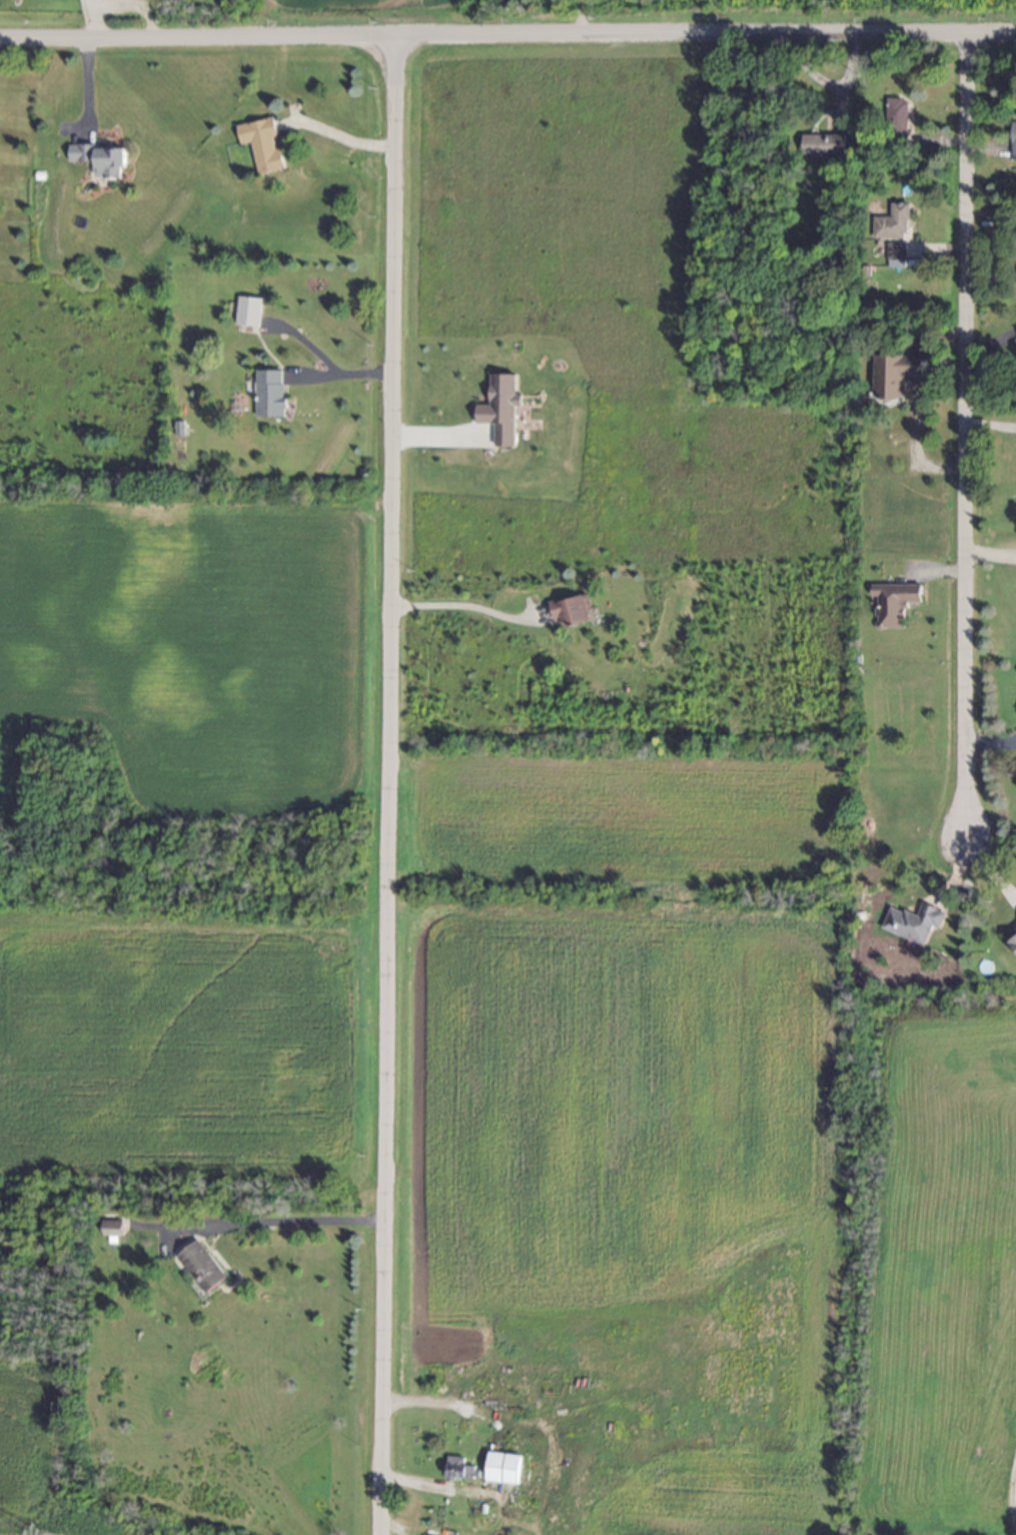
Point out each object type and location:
road: (131, 9)
road: (91, 20)
road: (507, 36)
road: (830, 81)
road: (842, 105)
building: (896, 109)
road: (967, 127)
road: (340, 138)
building: (1012, 140)
building: (262, 145)
building: (823, 145)
building: (99, 159)
building: (892, 223)
building: (896, 255)
building: (248, 312)
building: (893, 374)
road: (340, 377)
building: (269, 393)
building: (500, 409)
road: (968, 535)
building: (893, 603)
road: (465, 609)
building: (571, 610)
crop: (188, 647)
road: (387, 785)
building: (913, 923)
building: (1013, 942)
crop: (176, 1047)
crop: (628, 1072)
road: (285, 1226)
building: (111, 1228)
building: (201, 1267)
road: (502, 1413)
crop: (37, 1458)
building: (458, 1468)
building: (503, 1468)
road: (386, 1524)

